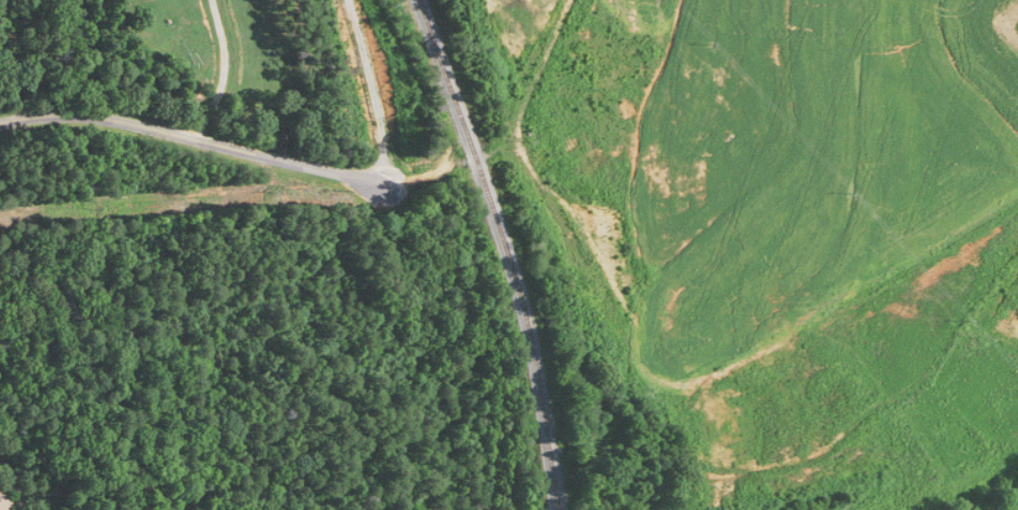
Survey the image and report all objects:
road: (222, 71)
road: (193, 138)
railway: (498, 251)
road: (15, 483)
building: (5, 503)

